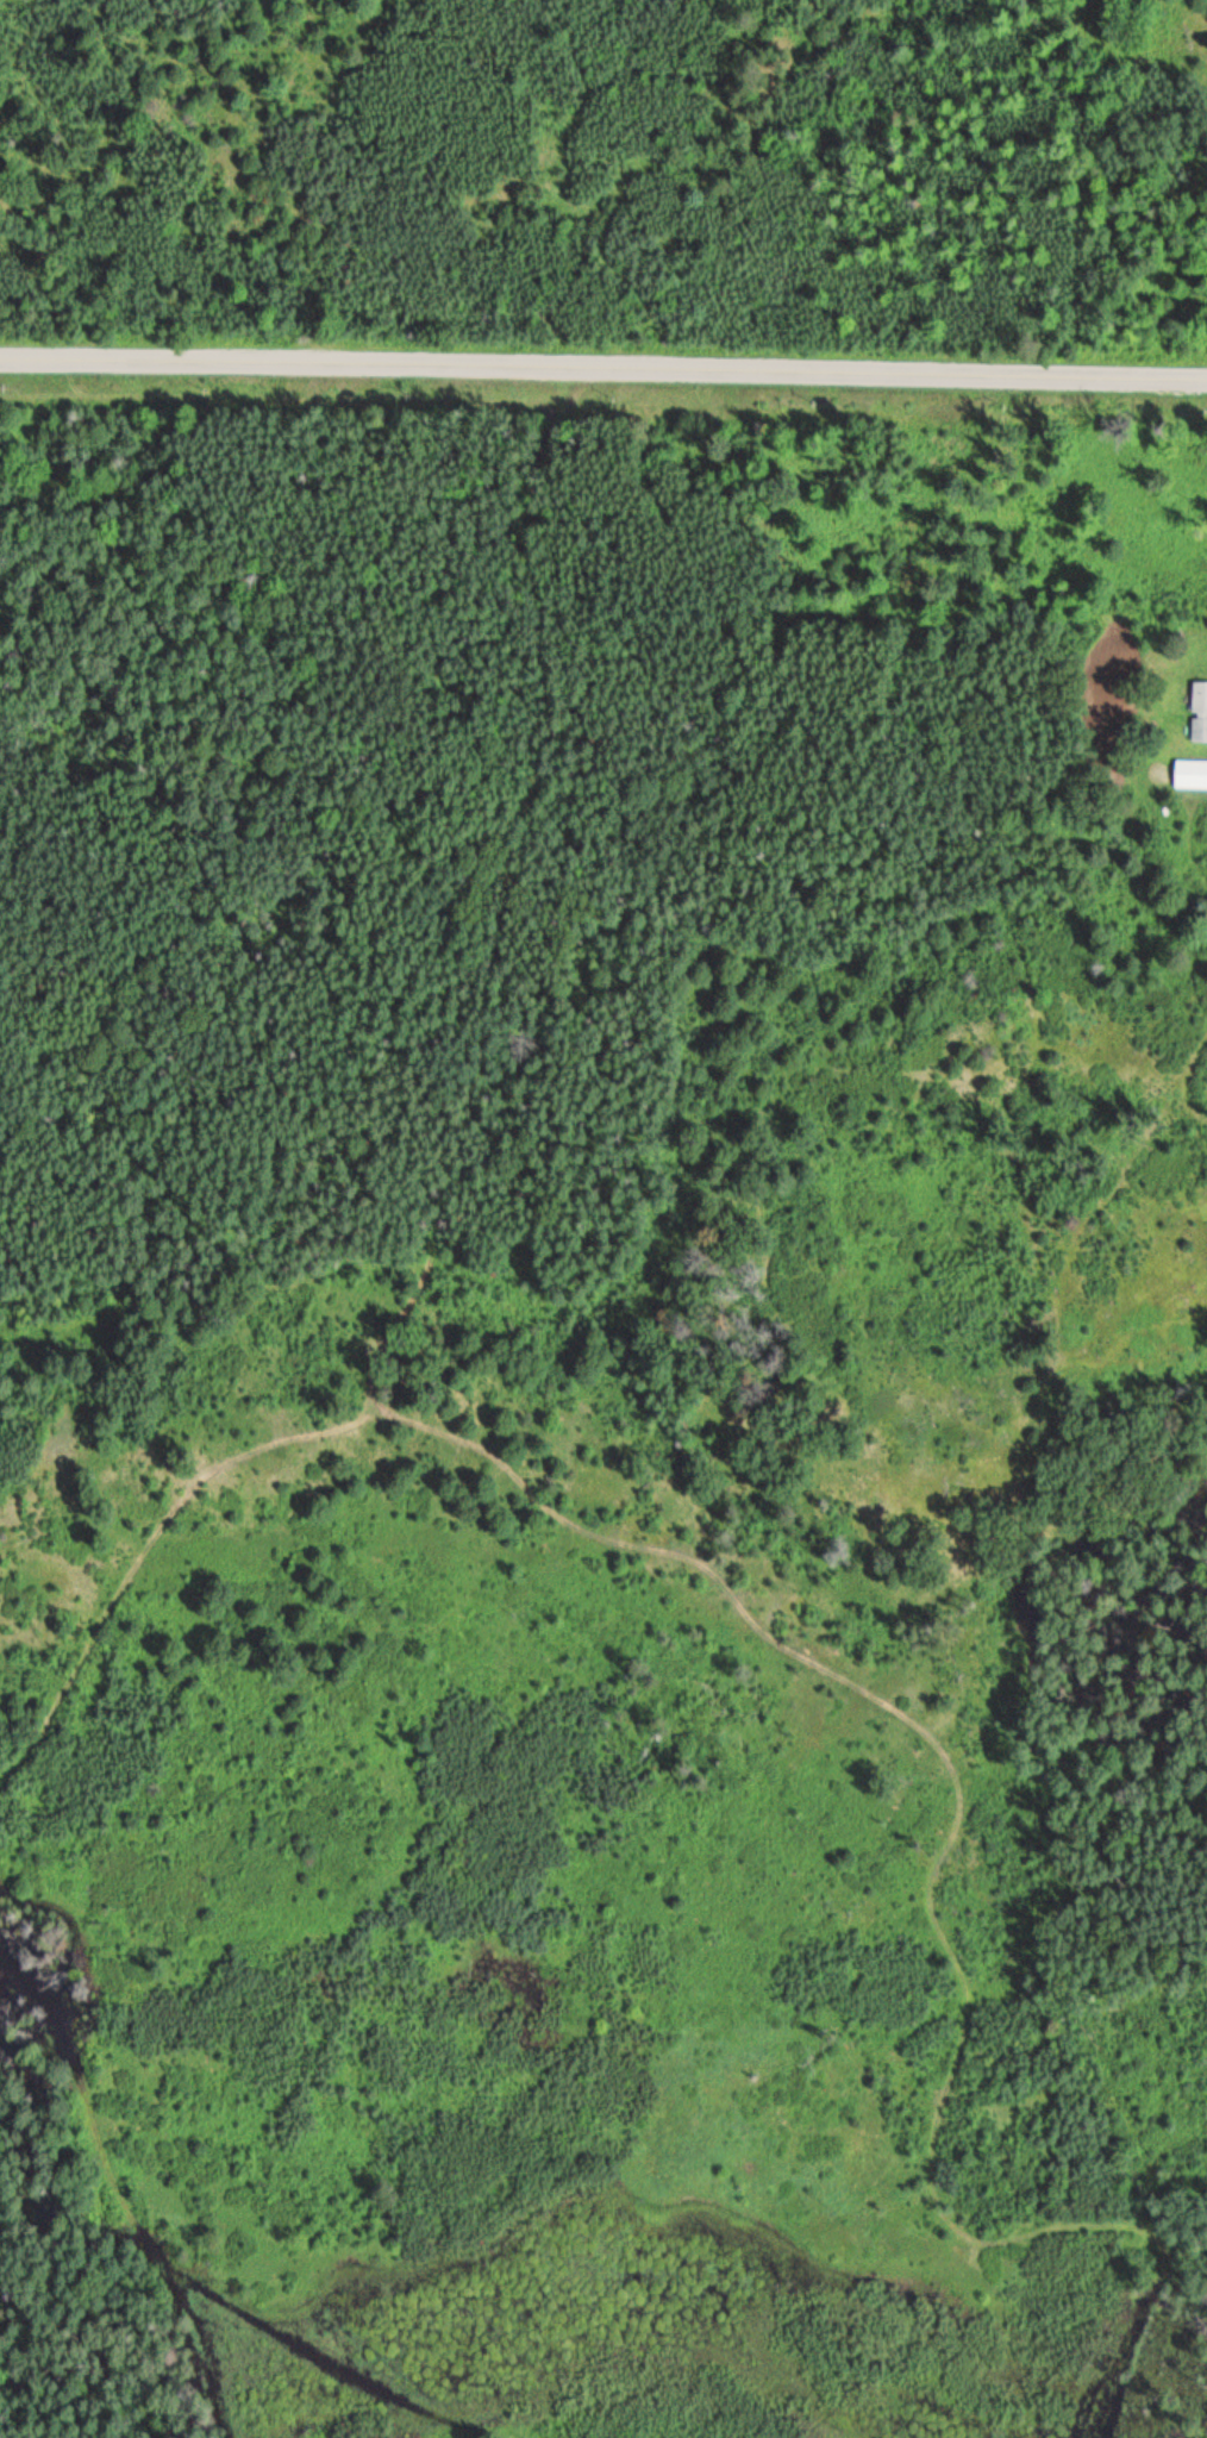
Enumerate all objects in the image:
road: (603, 368)
building: (1200, 711)
building: (1192, 774)

